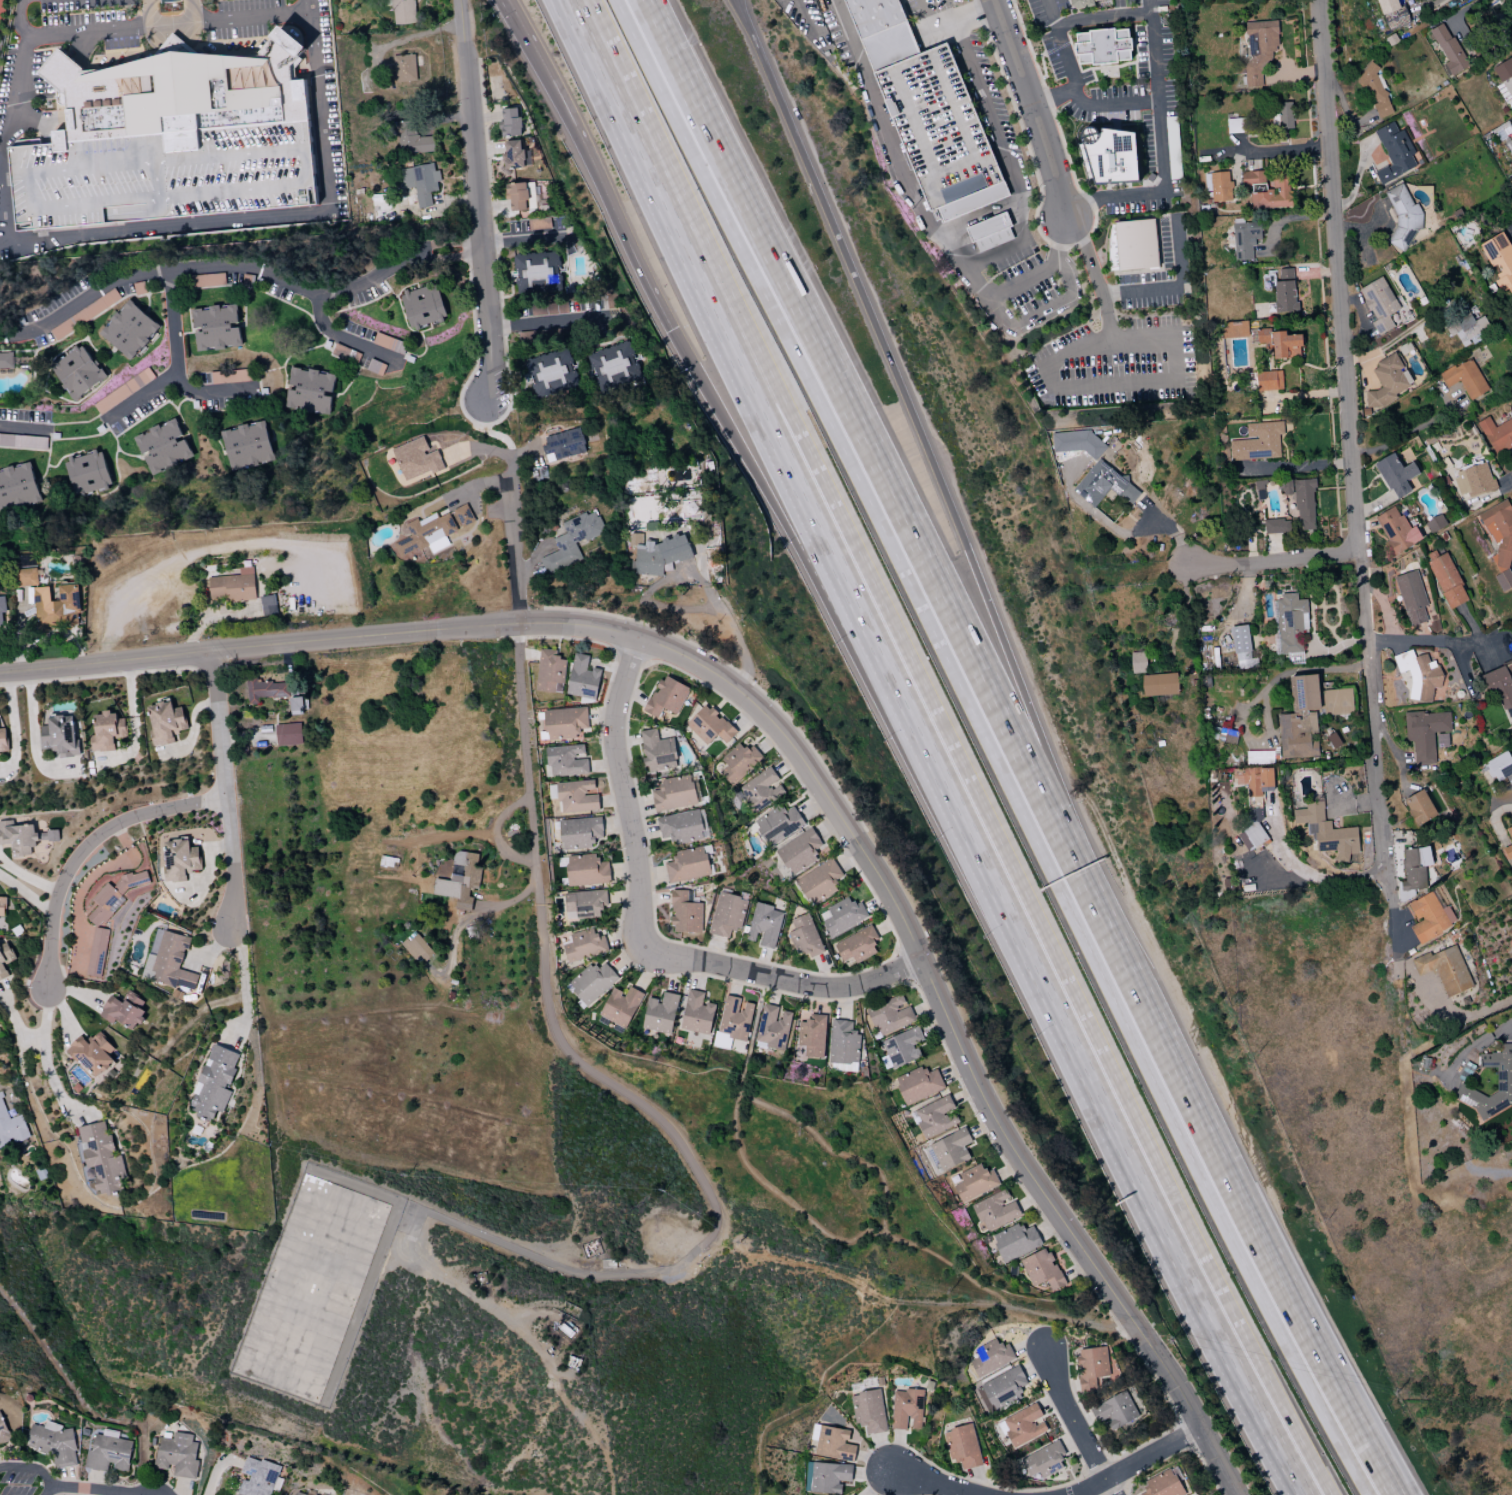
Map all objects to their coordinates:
building: (2, 2)
building: (1081, 3)
parking lot: (74, 4)
road: (307, 7)
road: (498, 8)
building: (403, 11)
road: (950, 11)
building: (1496, 11)
road: (1458, 13)
road: (804, 14)
road: (927, 15)
road: (1100, 15)
road: (18, 19)
road: (190, 22)
road: (150, 23)
road: (940, 27)
building: (879, 32)
building: (1508, 34)
road: (411, 36)
road: (172, 45)
building: (1101, 46)
building: (172, 47)
building: (941, 49)
building: (1258, 50)
building: (1447, 50)
road: (1151, 51)
road: (313, 68)
building: (403, 68)
building: (1504, 75)
road: (1073, 86)
building: (1374, 91)
building: (179, 93)
road: (1050, 94)
road: (1030, 110)
building: (1282, 116)
road: (36, 121)
building: (510, 122)
building: (410, 138)
building: (1393, 153)
building: (514, 155)
building: (1110, 156)
road: (587, 172)
building: (161, 177)
parking lot: (161, 177)
building: (420, 182)
building: (1217, 186)
building: (1266, 190)
road: (1154, 195)
building: (516, 196)
building: (959, 202)
building: (436, 205)
road: (477, 206)
road: (438, 207)
building: (1403, 216)
building: (989, 232)
building: (1243, 238)
road: (520, 239)
building: (1135, 244)
road: (1178, 255)
road: (984, 258)
building: (1499, 259)
road: (239, 266)
road: (1091, 267)
building: (537, 272)
road: (1021, 279)
building: (207, 280)
road: (1140, 291)
building: (1284, 291)
building: (1378, 304)
building: (422, 305)
road: (1041, 309)
building: (84, 314)
road: (550, 322)
building: (216, 327)
building: (1464, 327)
building: (128, 329)
building: (1233, 329)
road: (341, 336)
road: (1394, 338)
building: (1278, 341)
road: (1076, 353)
building: (5, 360)
road: (173, 362)
building: (612, 366)
building: (76, 371)
building: (550, 373)
building: (231, 376)
building: (1464, 378)
road: (1171, 380)
building: (1268, 380)
road: (749, 381)
building: (1386, 382)
building: (123, 390)
building: (309, 391)
road: (212, 392)
road: (904, 398)
road: (857, 401)
road: (22, 428)
building: (1496, 433)
road: (498, 435)
road: (1405, 435)
building: (22, 441)
building: (1074, 442)
building: (1257, 442)
building: (563, 444)
building: (162, 446)
building: (247, 446)
building: (416, 459)
road: (1292, 464)
road: (1351, 469)
building: (88, 474)
building: (1395, 475)
building: (1472, 480)
building: (1103, 485)
building: (17, 487)
building: (1301, 501)
building: (1434, 523)
building: (1273, 525)
building: (433, 531)
building: (1396, 531)
building: (1499, 532)
road: (512, 538)
building: (635, 539)
building: (571, 540)
road: (800, 548)
building: (659, 554)
road: (184, 558)
road: (1270, 561)
building: (1442, 571)
building: (25, 577)
building: (1503, 580)
building: (232, 586)
building: (1453, 596)
building: (1411, 597)
building: (267, 604)
building: (56, 606)
building: (1, 612)
building: (1290, 622)
road: (318, 640)
road: (1431, 641)
building: (1240, 645)
building: (1137, 662)
building: (549, 672)
building: (1418, 674)
building: (582, 678)
building: (1159, 684)
building: (1500, 685)
building: (265, 690)
building: (666, 697)
building: (295, 705)
building: (1307, 715)
building: (165, 722)
building: (564, 723)
building: (709, 725)
building: (106, 731)
building: (1424, 733)
building: (287, 734)
building: (59, 735)
building: (1441, 740)
building: (3, 741)
road: (963, 748)
road: (994, 748)
building: (656, 750)
building: (564, 761)
building: (739, 762)
building: (1498, 768)
building: (1255, 780)
road: (224, 789)
building: (761, 789)
building: (673, 793)
building: (576, 796)
building: (1419, 807)
building: (777, 824)
building: (680, 827)
building: (1252, 830)
building: (1325, 830)
building: (578, 832)
building: (1510, 836)
building: (23, 839)
road: (84, 845)
building: (798, 851)
building: (179, 859)
building: (687, 865)
building: (585, 870)
building: (1412, 871)
road: (1315, 874)
building: (460, 881)
building: (817, 882)
road: (522, 892)
building: (113, 895)
building: (583, 903)
building: (2, 907)
building: (684, 913)
building: (726, 914)
building: (841, 916)
building: (1429, 917)
building: (764, 924)
road: (639, 932)
building: (804, 936)
building: (583, 945)
building: (856, 945)
building: (417, 947)
building: (96, 952)
building: (4, 958)
building: (168, 960)
building: (1444, 969)
building: (590, 983)
road: (243, 984)
road: (940, 1005)
building: (620, 1006)
building: (122, 1010)
building: (659, 1013)
building: (696, 1013)
road: (1468, 1014)
building: (889, 1015)
building: (734, 1018)
building: (772, 1027)
building: (811, 1036)
building: (842, 1042)
road: (1478, 1044)
building: (901, 1047)
building: (91, 1054)
road: (44, 1057)
building: (1503, 1075)
building: (213, 1083)
building: (917, 1084)
road: (616, 1088)
building: (934, 1117)
building: (10, 1128)
road: (1120, 1129)
road: (736, 1144)
building: (950, 1149)
road: (1222, 1153)
road: (838, 1154)
building: (99, 1159)
building: (974, 1182)
building: (994, 1210)
road: (875, 1234)
building: (1014, 1241)
road: (948, 1263)
building: (1041, 1269)
road: (853, 1283)
building: (310, 1288)
road: (1071, 1319)
building: (990, 1357)
building: (1091, 1367)
building: (1002, 1389)
building: (906, 1408)
building: (867, 1411)
building: (1115, 1411)
road: (1072, 1423)
building: (1022, 1426)
building: (2, 1429)
building: (53, 1443)
building: (833, 1444)
building: (961, 1446)
building: (108, 1453)
building: (177, 1455)
building: (1043, 1460)
road: (1214, 1460)
road: (1135, 1461)
road: (33, 1468)
building: (258, 1477)
building: (827, 1477)
road: (935, 1483)
building: (1162, 1484)
road: (82, 1490)
building: (295, 1492)
building: (850, 1494)

